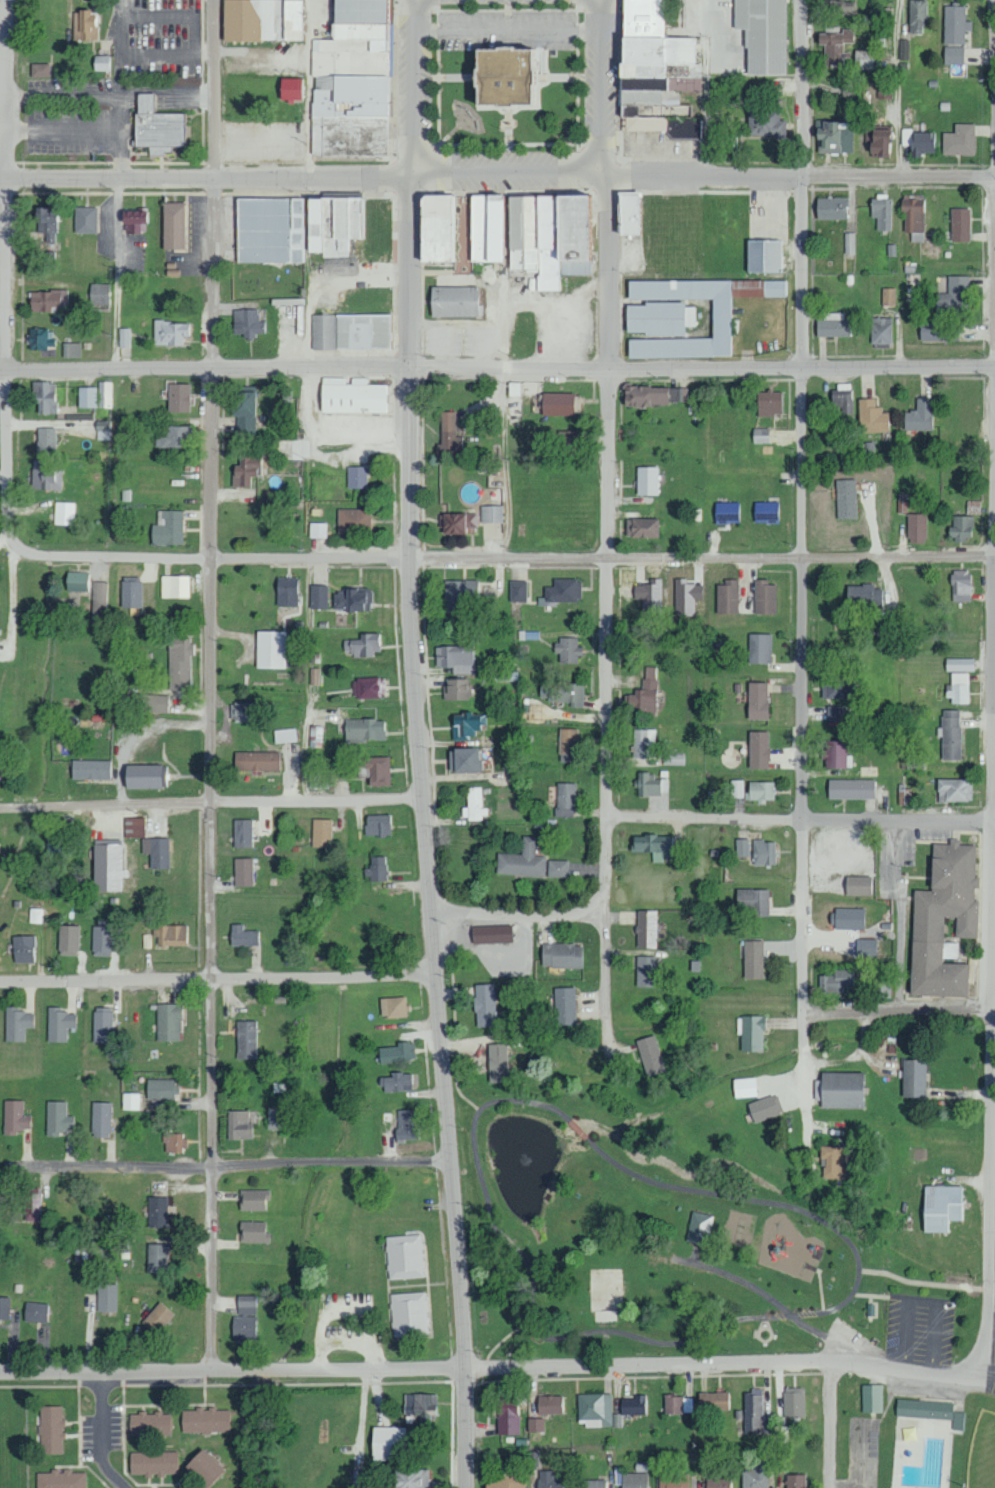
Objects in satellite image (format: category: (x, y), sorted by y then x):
building: (840, 7)
building: (917, 16)
building: (260, 20)
building: (85, 25)
building: (955, 25)
building: (767, 36)
building: (834, 43)
building: (953, 55)
building: (863, 59)
building: (102, 63)
building: (39, 69)
building: (653, 73)
building: (506, 76)
building: (350, 82)
road: (6, 89)
road: (212, 89)
building: (291, 89)
road: (413, 89)
road: (608, 89)
road: (805, 89)
road: (109, 93)
building: (764, 123)
building: (156, 127)
building: (834, 137)
building: (959, 140)
building: (878, 143)
building: (921, 143)
road: (899, 178)
road: (402, 179)
building: (831, 208)
building: (881, 212)
building: (625, 214)
building: (913, 216)
building: (134, 218)
building: (84, 220)
building: (47, 222)
building: (959, 225)
building: (172, 226)
building: (296, 228)
building: (485, 228)
building: (435, 229)
building: (549, 237)
building: (849, 243)
building: (763, 256)
building: (98, 294)
building: (888, 296)
building: (953, 297)
building: (47, 299)
building: (452, 301)
building: (658, 318)
building: (720, 319)
building: (246, 323)
building: (832, 326)
building: (880, 330)
building: (349, 332)
building: (938, 332)
building: (170, 333)
building: (39, 338)
building: (124, 338)
building: (72, 350)
road: (899, 369)
road: (401, 370)
road: (6, 378)
building: (513, 389)
building: (105, 394)
building: (43, 396)
building: (351, 396)
building: (655, 396)
building: (87, 397)
building: (177, 398)
building: (842, 399)
building: (768, 403)
building: (556, 404)
building: (244, 412)
building: (919, 416)
building: (871, 417)
building: (760, 435)
building: (173, 437)
building: (448, 437)
building: (45, 441)
building: (567, 442)
building: (245, 471)
building: (356, 477)
building: (46, 479)
building: (646, 481)
building: (845, 499)
building: (726, 512)
building: (64, 514)
building: (491, 514)
building: (353, 521)
building: (457, 523)
building: (167, 528)
building: (641, 528)
building: (916, 528)
building: (959, 529)
building: (318, 530)
road: (423, 556)
road: (899, 560)
building: (77, 581)
building: (175, 586)
building: (960, 586)
building: (517, 591)
building: (563, 591)
building: (286, 592)
building: (130, 594)
building: (459, 596)
building: (862, 596)
building: (319, 597)
building: (649, 597)
building: (685, 597)
building: (726, 598)
building: (763, 598)
building: (352, 600)
building: (99, 601)
road: (607, 620)
road: (802, 636)
building: (363, 646)
building: (758, 647)
building: (271, 649)
building: (566, 649)
building: (455, 658)
building: (179, 663)
building: (958, 664)
building: (835, 686)
building: (369, 687)
building: (957, 687)
building: (454, 688)
building: (562, 693)
building: (643, 693)
building: (756, 700)
building: (149, 703)
building: (242, 711)
building: (834, 713)
building: (464, 725)
building: (364, 729)
building: (949, 734)
building: (285, 735)
building: (318, 736)
building: (643, 743)
building: (566, 745)
building: (757, 749)
building: (834, 754)
building: (672, 759)
building: (256, 760)
building: (464, 760)
building: (0, 762)
building: (90, 769)
building: (375, 770)
road: (212, 775)
building: (143, 776)
building: (649, 785)
building: (736, 788)
building: (850, 789)
building: (954, 790)
building: (761, 791)
building: (564, 800)
road: (210, 804)
building: (474, 805)
road: (704, 818)
road: (896, 821)
building: (376, 825)
building: (134, 827)
building: (242, 833)
building: (320, 833)
road: (423, 834)
building: (652, 845)
building: (54, 846)
building: (741, 847)
building: (156, 851)
building: (763, 852)
building: (521, 861)
building: (106, 865)
building: (376, 868)
building: (557, 868)
building: (243, 871)
building: (856, 885)
building: (753, 900)
building: (36, 915)
road: (517, 918)
building: (847, 918)
building: (926, 927)
building: (645, 929)
building: (490, 933)
building: (173, 935)
building: (242, 936)
building: (68, 940)
building: (102, 940)
building: (865, 947)
building: (22, 949)
road: (989, 954)
building: (560, 955)
building: (752, 959)
building: (645, 971)
road: (273, 979)
building: (836, 981)
road: (57, 982)
building: (881, 988)
road: (115, 1003)
building: (484, 1005)
building: (563, 1006)
building: (392, 1007)
road: (896, 1011)
building: (168, 1022)
building: (16, 1023)
building: (59, 1024)
building: (102, 1025)
building: (750, 1033)
building: (246, 1040)
building: (396, 1053)
building: (649, 1055)
building: (496, 1062)
building: (913, 1079)
building: (396, 1082)
building: (744, 1087)
building: (160, 1089)
building: (840, 1090)
building: (131, 1101)
road: (484, 1107)
building: (763, 1108)
building: (14, 1117)
building: (58, 1118)
building: (277, 1118)
building: (101, 1119)
building: (240, 1124)
building: (404, 1124)
building: (174, 1142)
road: (109, 1145)
fountain: (525, 1157)
building: (834, 1162)
road: (330, 1165)
road: (67, 1168)
road: (161, 1168)
building: (253, 1200)
building: (31, 1206)
building: (939, 1207)
building: (156, 1212)
building: (699, 1227)
building: (253, 1232)
building: (403, 1256)
building: (156, 1258)
park: (738, 1261)
road: (923, 1283)
road: (992, 1290)
road: (769, 1296)
building: (106, 1297)
building: (245, 1304)
building: (4, 1308)
building: (35, 1312)
building: (408, 1313)
building: (156, 1317)
building: (243, 1326)
road: (495, 1368)
road: (992, 1382)
building: (871, 1397)
building: (712, 1400)
building: (793, 1401)
building: (548, 1403)
building: (632, 1404)
building: (678, 1404)
building: (420, 1405)
building: (923, 1408)
building: (595, 1409)
building: (754, 1412)
building: (507, 1414)
building: (204, 1420)
building: (957, 1420)
building: (148, 1423)
building: (535, 1424)
road: (831, 1426)
building: (51, 1429)
road: (101, 1433)
building: (388, 1442)
park: (982, 1453)
building: (153, 1462)
building: (202, 1467)
building: (755, 1475)
building: (410, 1478)
building: (61, 1479)
building: (549, 1479)
building: (634, 1480)
building: (673, 1480)
building: (795, 1480)
building: (504, 1481)
building: (717, 1482)
building: (591, 1483)

